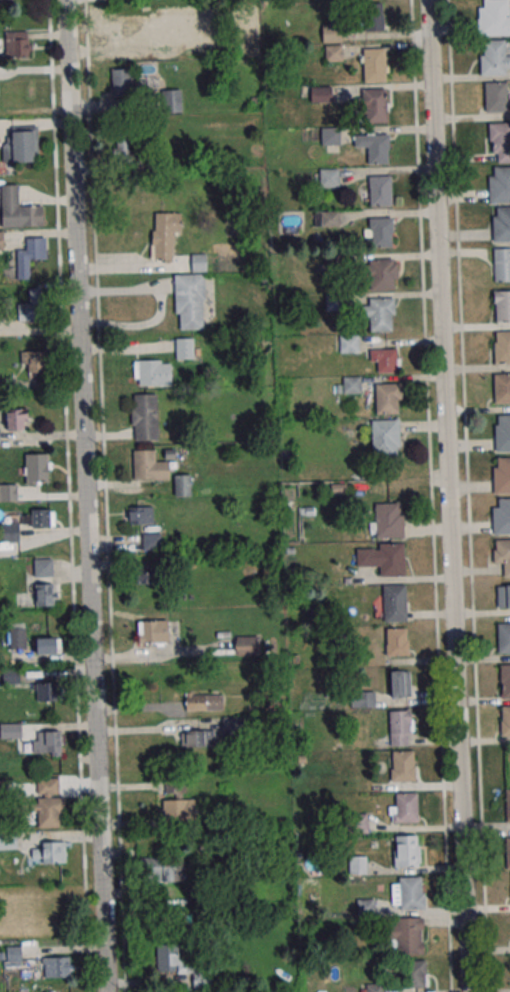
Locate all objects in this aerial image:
building: (6, 2)
building: (373, 17)
building: (494, 18)
building: (331, 33)
building: (17, 44)
building: (333, 53)
building: (494, 58)
building: (375, 64)
building: (122, 82)
building: (321, 93)
building: (495, 96)
building: (169, 101)
building: (374, 105)
building: (330, 136)
building: (500, 142)
building: (21, 145)
building: (374, 147)
building: (125, 153)
building: (328, 178)
building: (499, 185)
building: (379, 190)
building: (18, 209)
building: (326, 218)
building: (501, 225)
building: (379, 231)
building: (164, 234)
building: (1, 240)
building: (29, 256)
building: (198, 262)
building: (501, 264)
building: (381, 274)
building: (189, 301)
building: (501, 305)
building: (30, 306)
building: (380, 314)
building: (349, 343)
building: (184, 348)
building: (502, 348)
building: (32, 361)
building: (153, 372)
building: (351, 384)
building: (502, 388)
building: (388, 398)
building: (144, 417)
building: (16, 419)
building: (502, 434)
building: (385, 437)
building: (149, 466)
building: (37, 468)
building: (501, 476)
building: (182, 485)
building: (8, 492)
road: (69, 496)
road: (84, 496)
road: (430, 496)
road: (450, 496)
road: (467, 496)
building: (139, 515)
building: (502, 517)
building: (37, 518)
building: (387, 520)
building: (10, 532)
building: (151, 540)
building: (502, 554)
building: (384, 558)
building: (42, 566)
building: (146, 574)
building: (41, 594)
building: (502, 596)
building: (395, 602)
building: (153, 631)
building: (17, 638)
building: (503, 638)
building: (397, 641)
building: (247, 645)
building: (45, 646)
building: (505, 681)
building: (400, 683)
building: (46, 691)
building: (363, 699)
building: (204, 702)
building: (505, 721)
building: (401, 727)
building: (10, 730)
building: (197, 737)
building: (44, 742)
building: (401, 765)
building: (179, 786)
building: (48, 802)
building: (508, 805)
building: (404, 808)
building: (178, 809)
building: (360, 822)
building: (7, 842)
building: (406, 851)
building: (48, 852)
building: (508, 852)
building: (357, 865)
building: (163, 869)
building: (408, 892)
building: (406, 935)
building: (169, 959)
building: (56, 967)
building: (414, 974)
building: (201, 978)
building: (374, 988)

